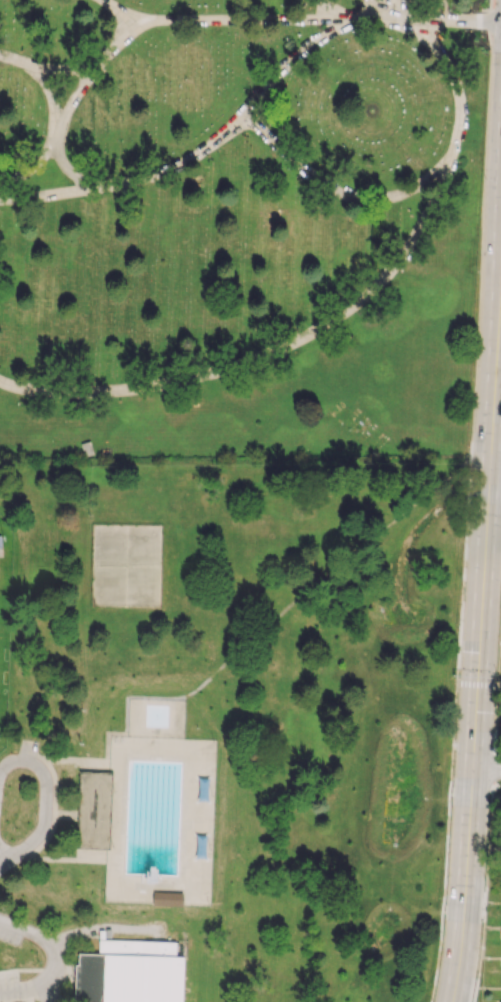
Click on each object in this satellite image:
road: (372, 9)
road: (337, 10)
road: (120, 13)
road: (182, 19)
road: (55, 118)
road: (236, 124)
road: (411, 189)
road: (46, 193)
road: (493, 221)
park: (239, 225)
road: (499, 353)
road: (263, 354)
road: (499, 365)
road: (496, 468)
park: (126, 566)
road: (479, 683)
road: (476, 684)
traffic signals: (479, 685)
park: (226, 725)
road: (487, 770)
road: (45, 788)
building: (94, 810)
road: (10, 852)
road: (8, 857)
building: (167, 900)
road: (104, 928)
road: (25, 931)
parking lot: (8, 933)
building: (130, 973)
parking lot: (9, 986)
road: (44, 987)

